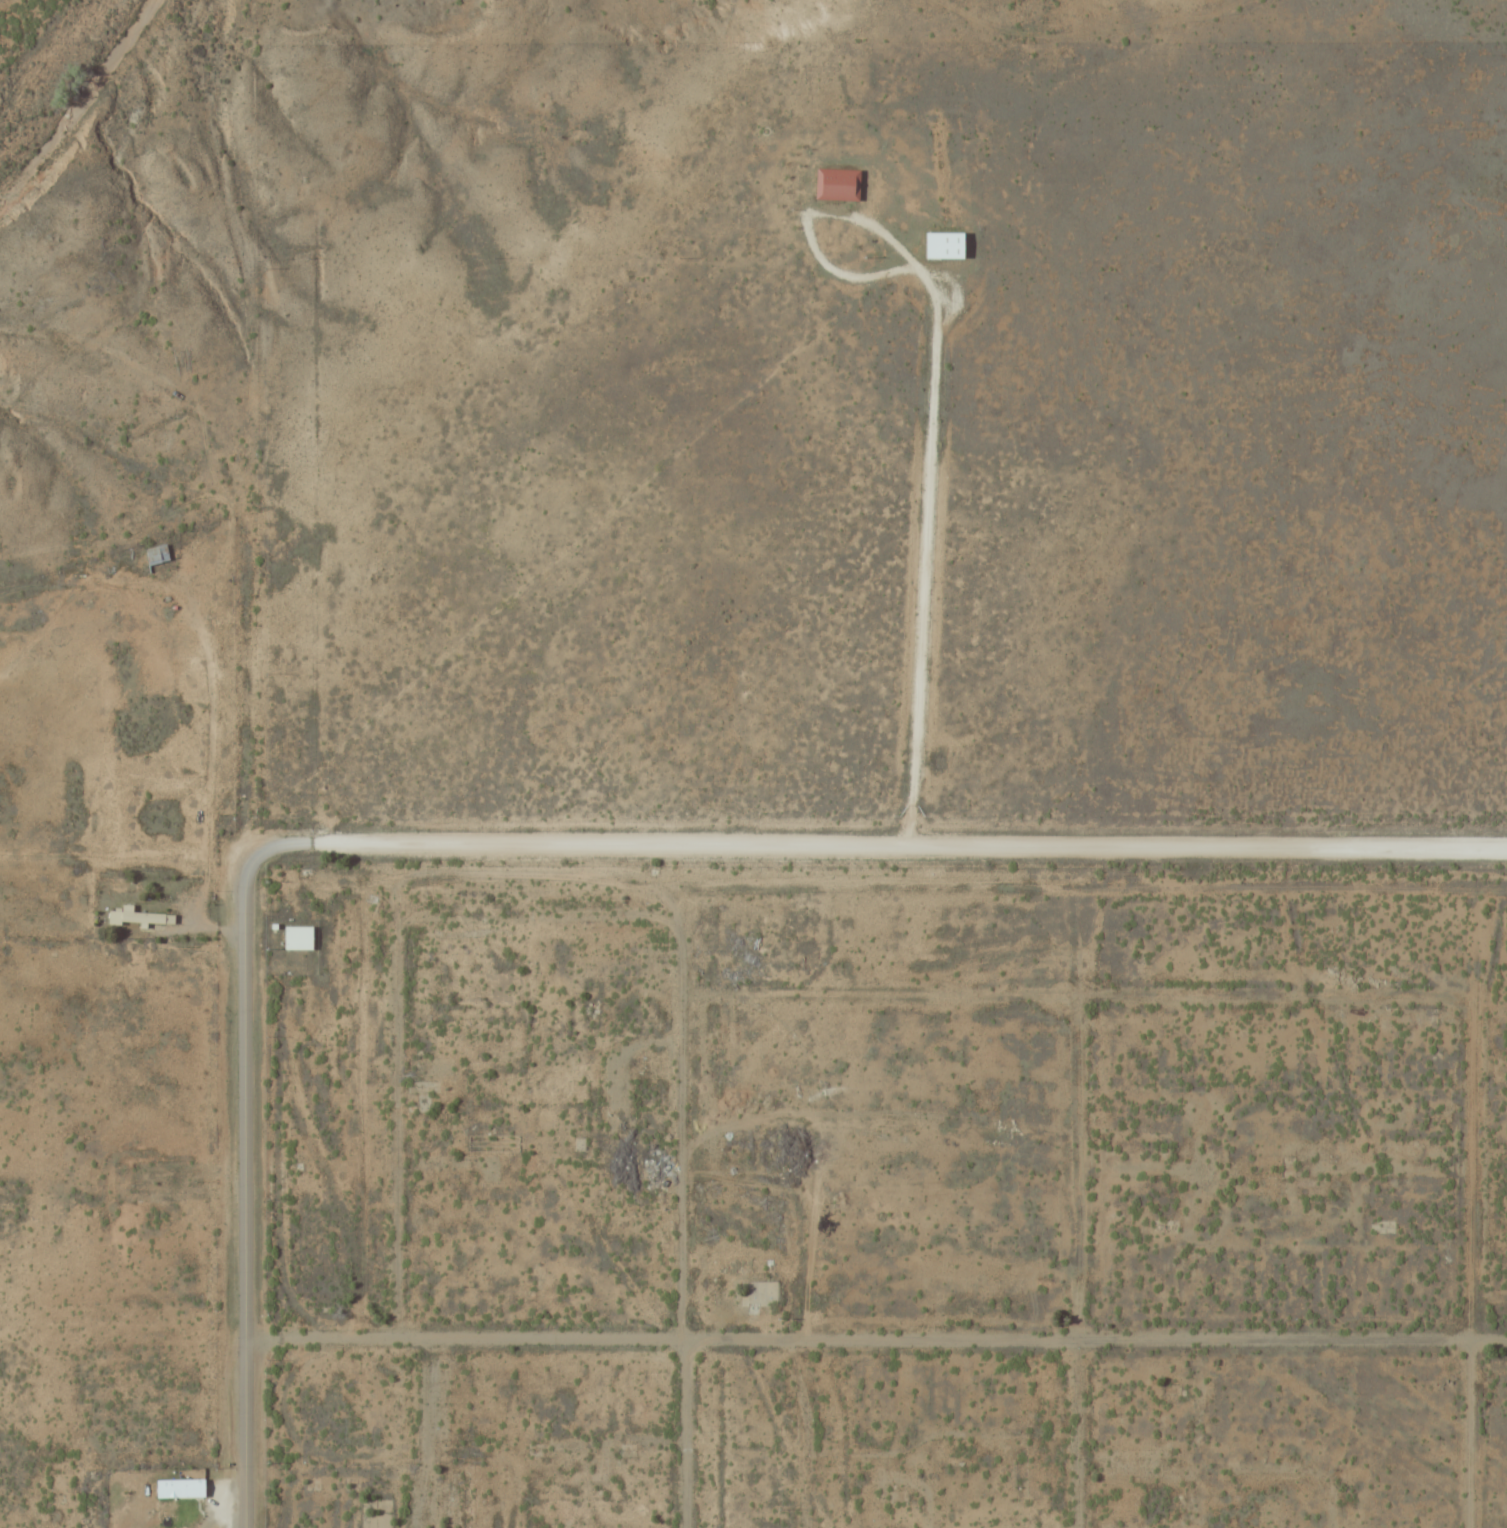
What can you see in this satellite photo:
building: (836, 183)
building: (942, 245)
road: (929, 412)
building: (156, 553)
road: (230, 575)
road: (884, 847)
building: (137, 915)
building: (295, 936)
road: (1061, 992)
building: (476, 1141)
road: (244, 1185)
road: (1076, 1259)
building: (758, 1292)
road: (876, 1340)
building: (184, 1488)

